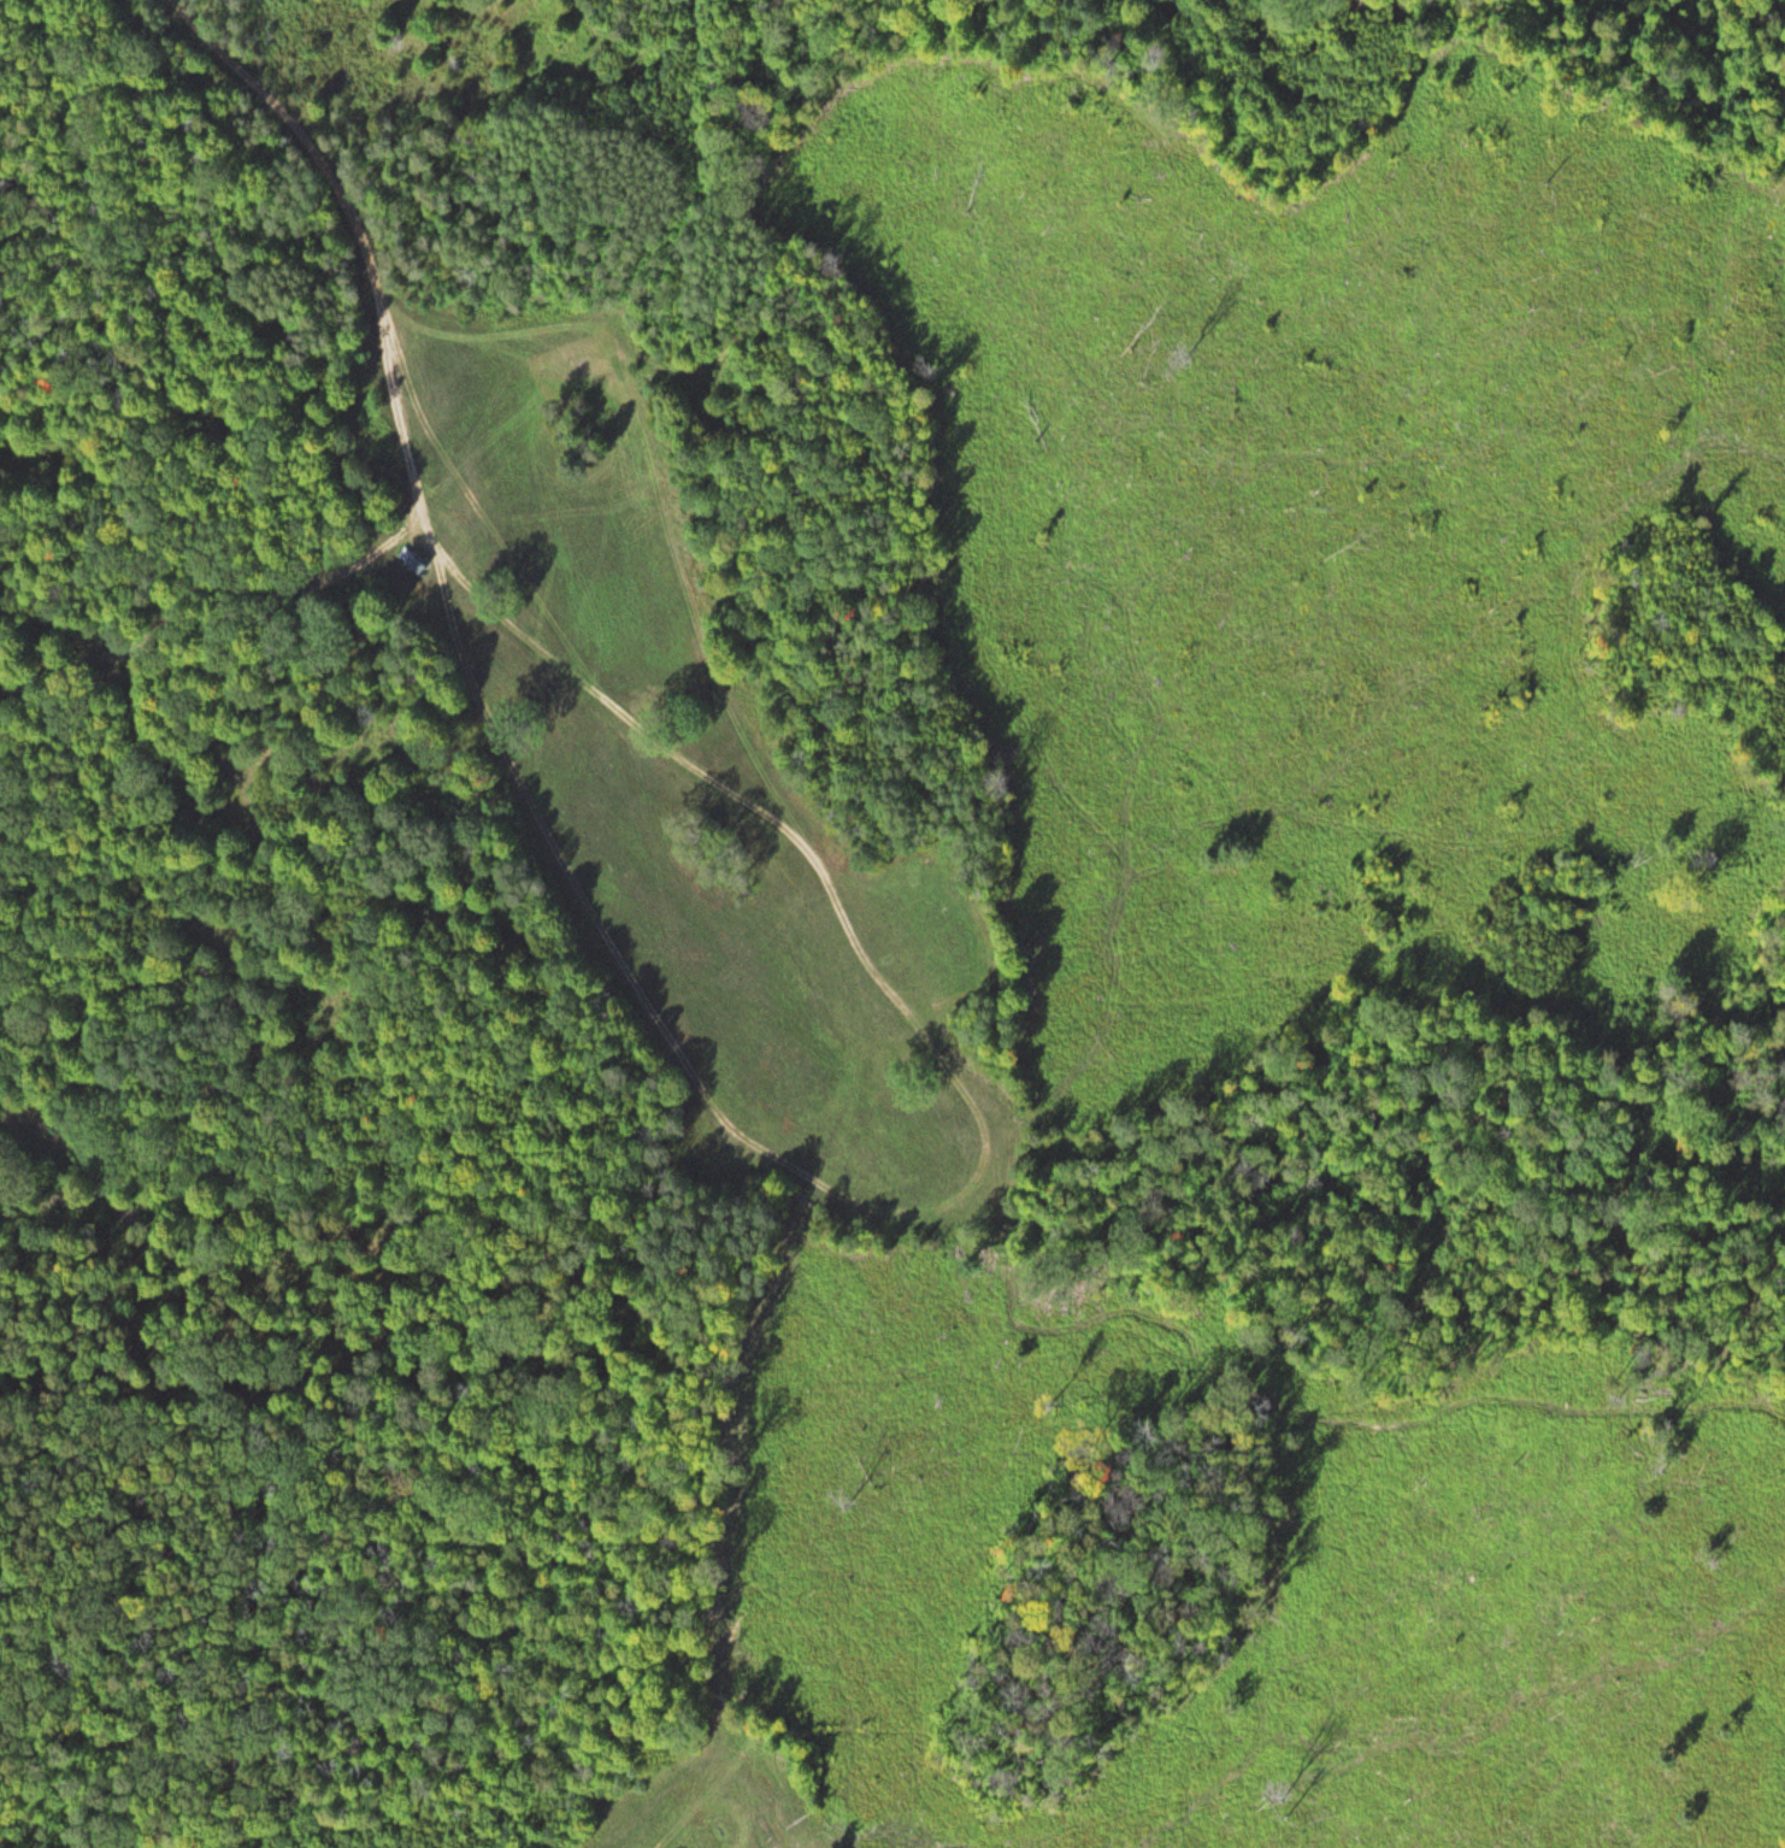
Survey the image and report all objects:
road: (373, 257)
road: (213, 592)
building: (705, 1137)
road: (830, 1149)
road: (959, 1736)

